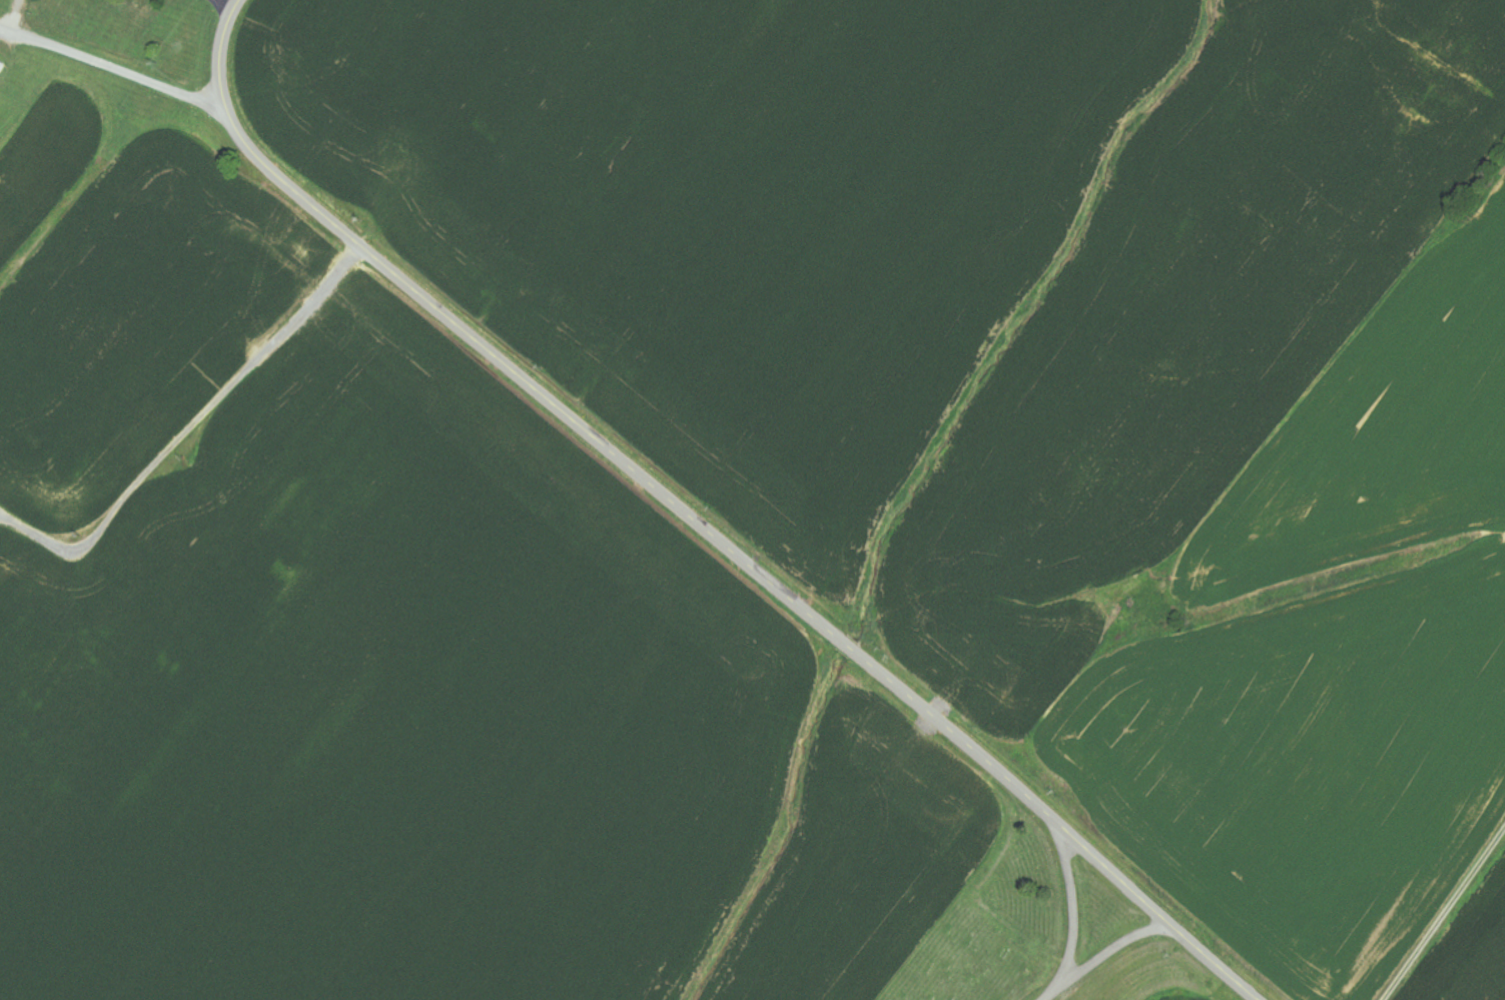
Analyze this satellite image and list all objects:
road: (123, 30)
building: (1, 66)
road: (695, 521)
road: (1395, 843)
road: (1073, 917)
park: (989, 943)
road: (1103, 955)

